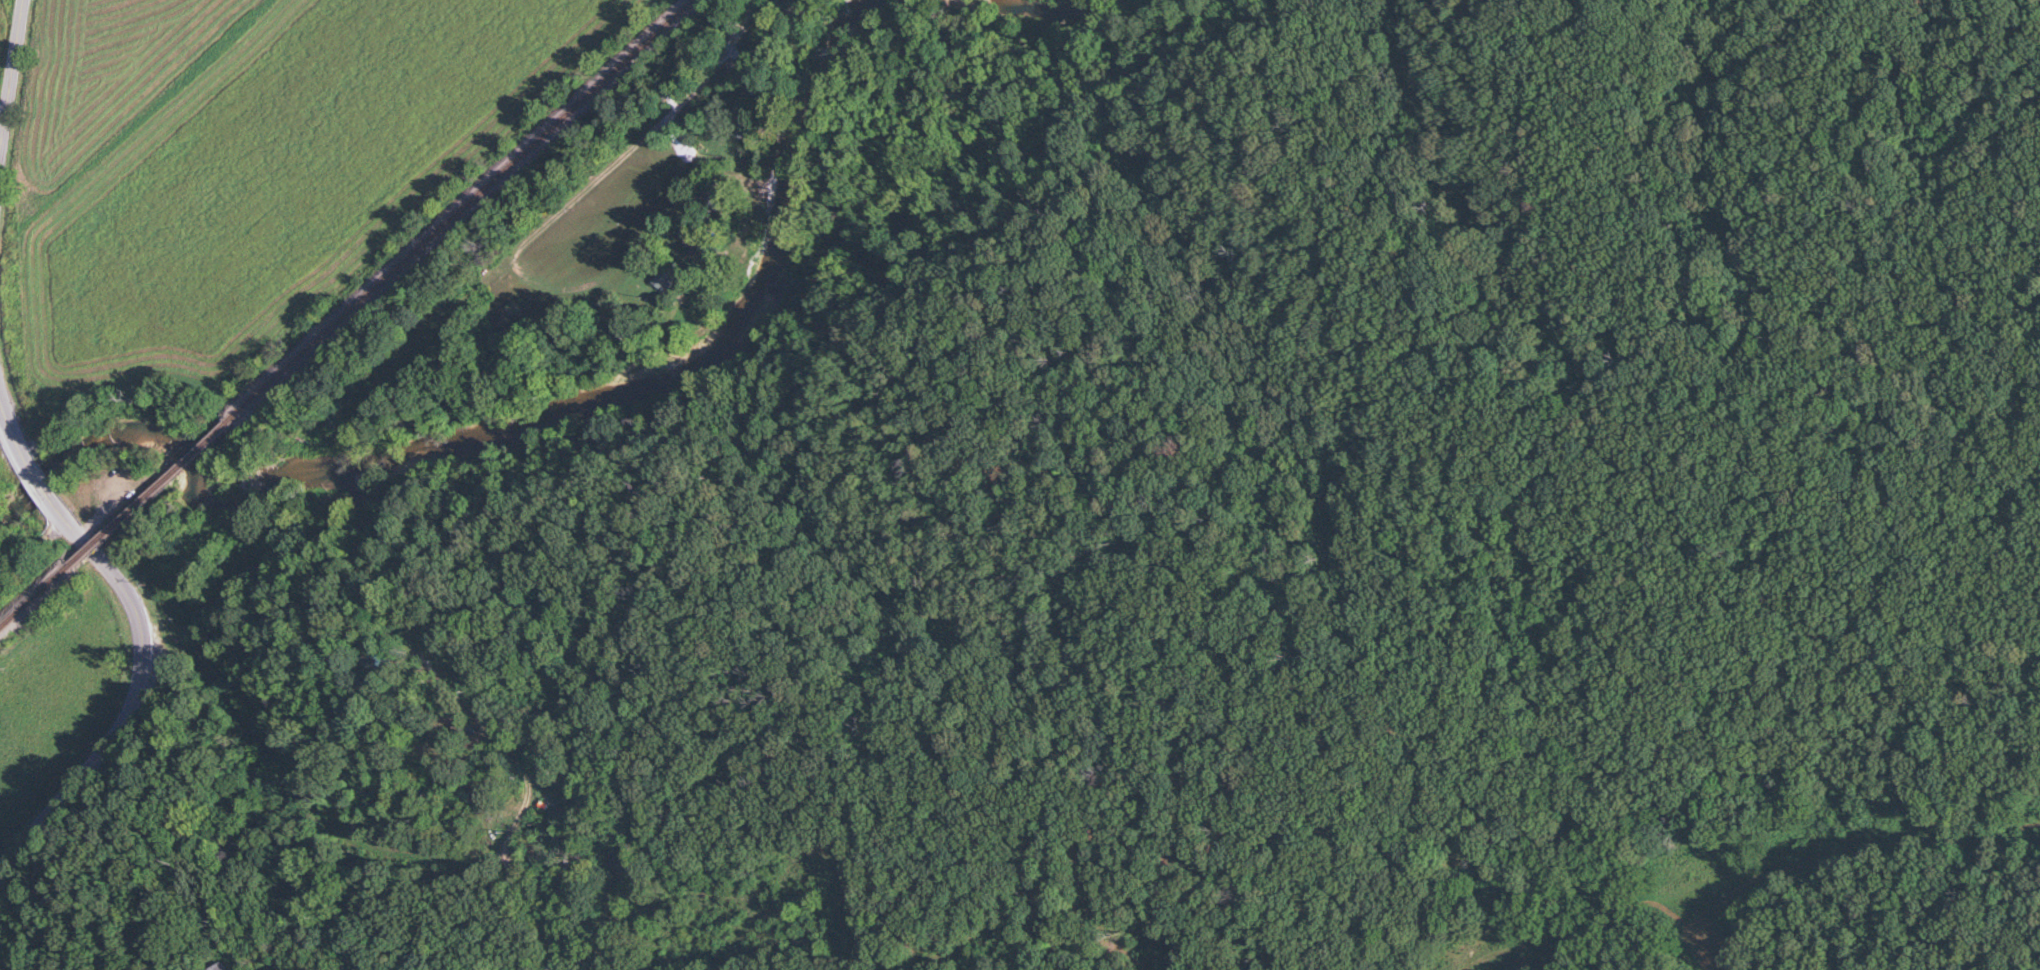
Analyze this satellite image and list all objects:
road: (6, 63)
railway: (470, 201)
road: (449, 307)
road: (12, 442)
road: (37, 486)
railway: (152, 491)
railway: (27, 604)
road: (132, 688)
road: (523, 792)
road: (232, 960)
road: (1, 964)

